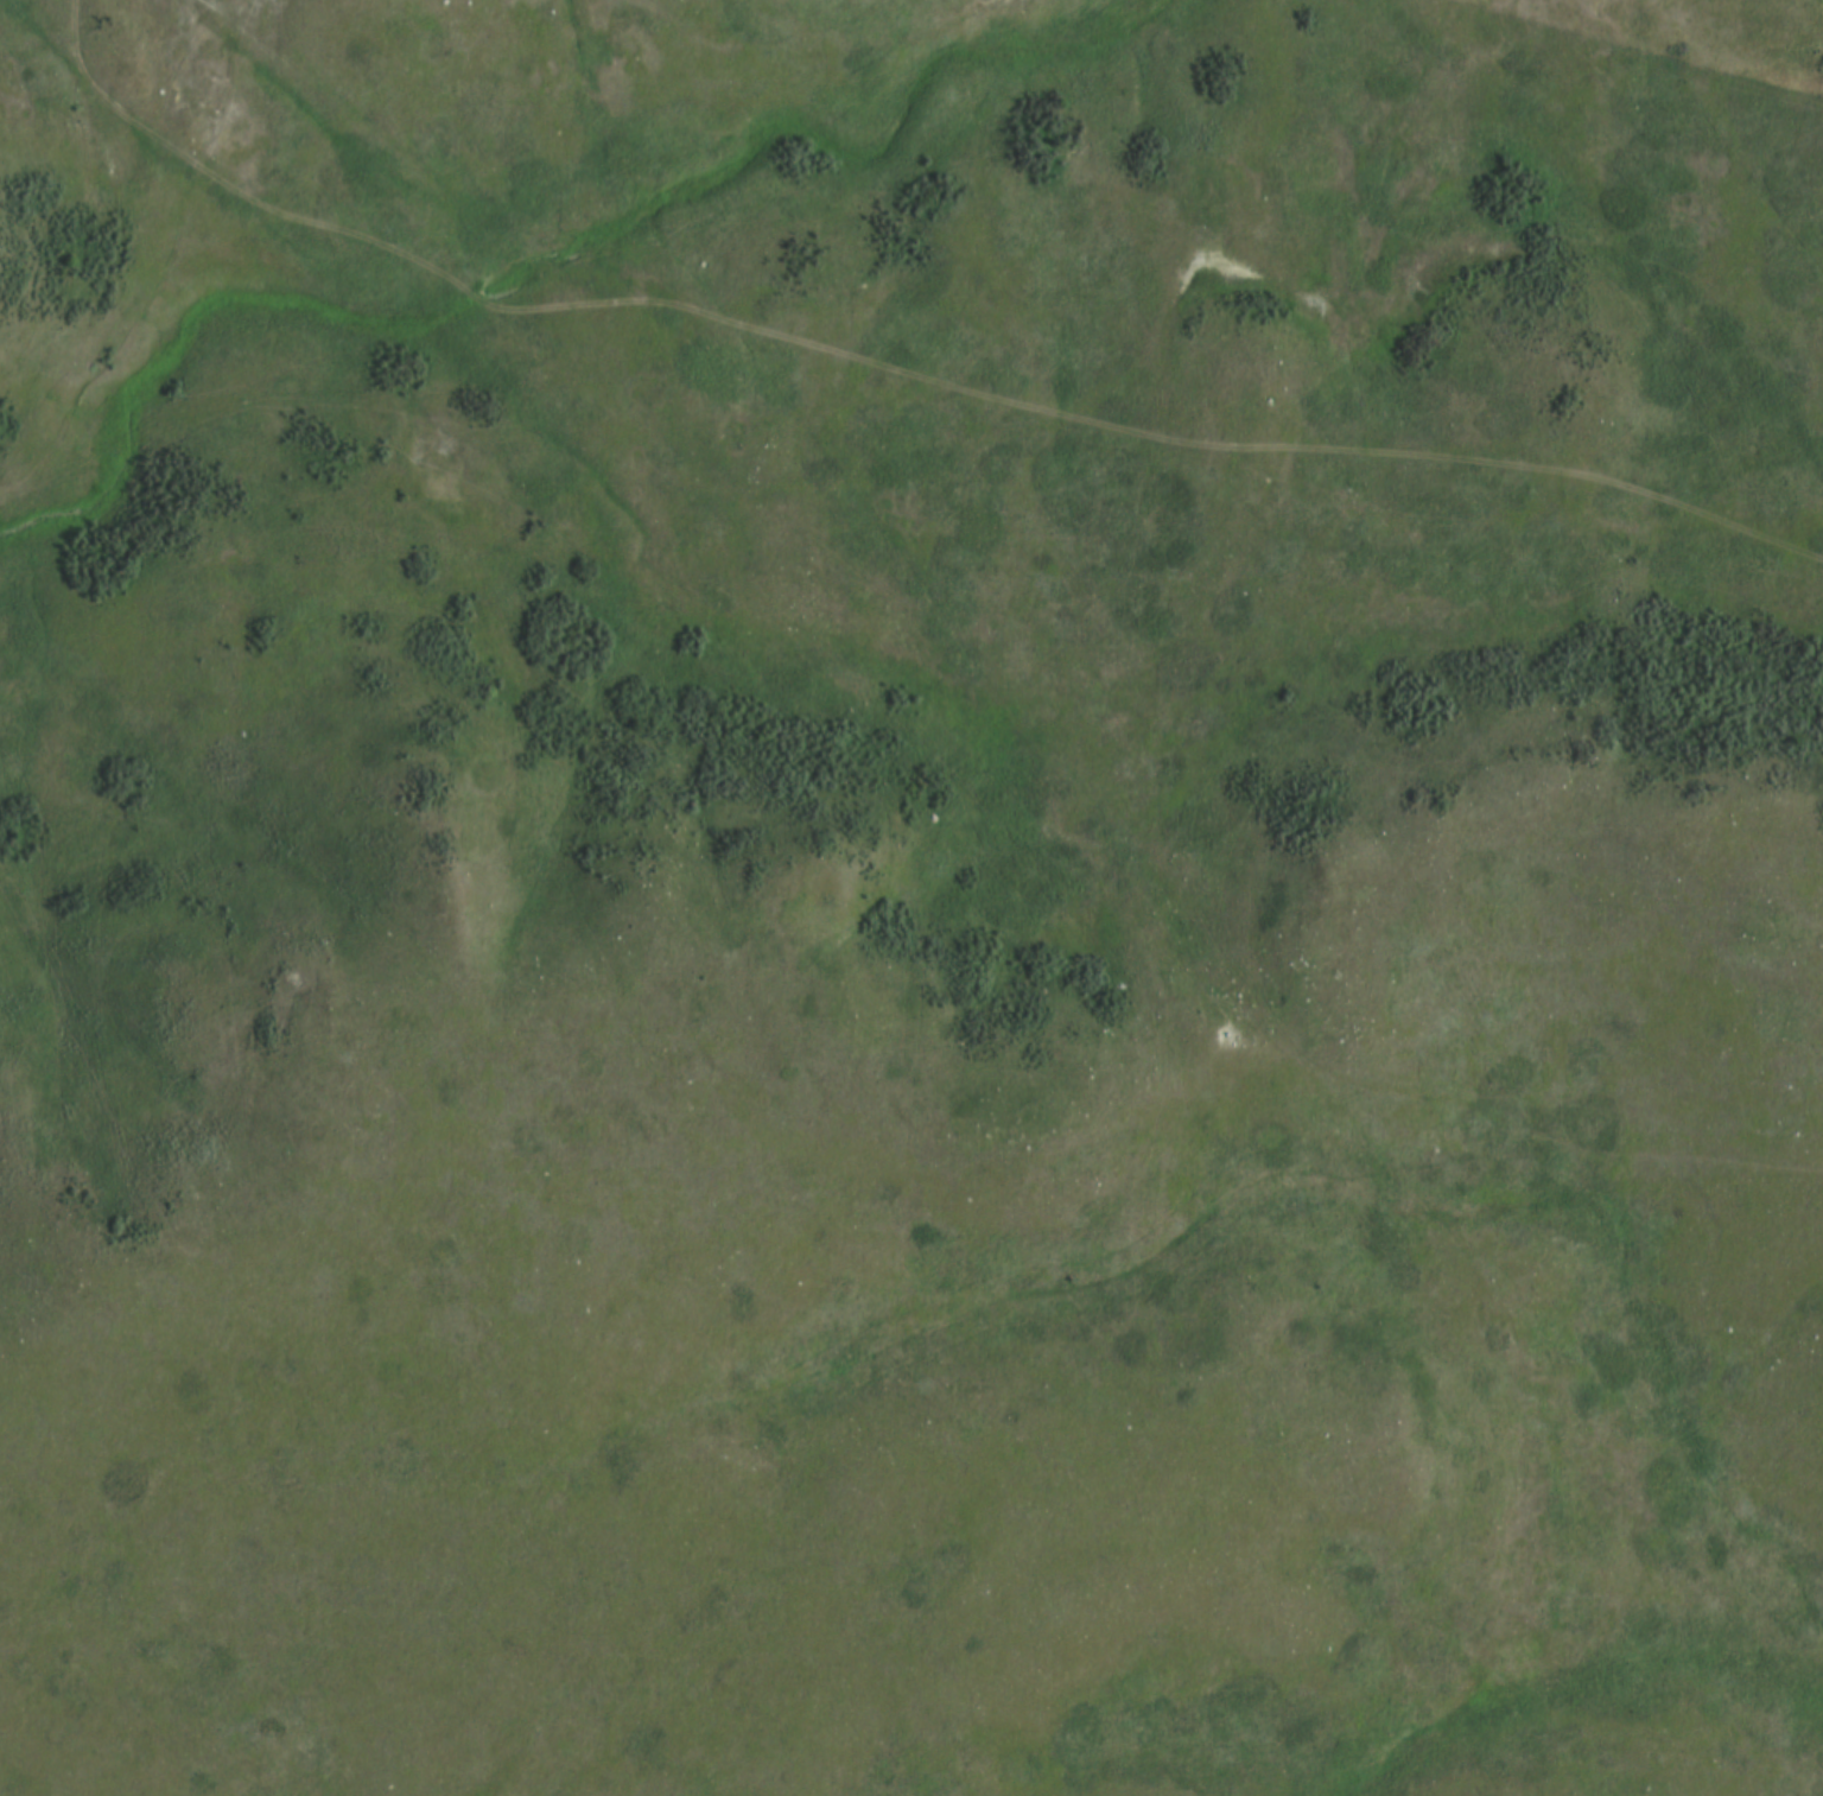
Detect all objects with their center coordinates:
road: (887, 369)

